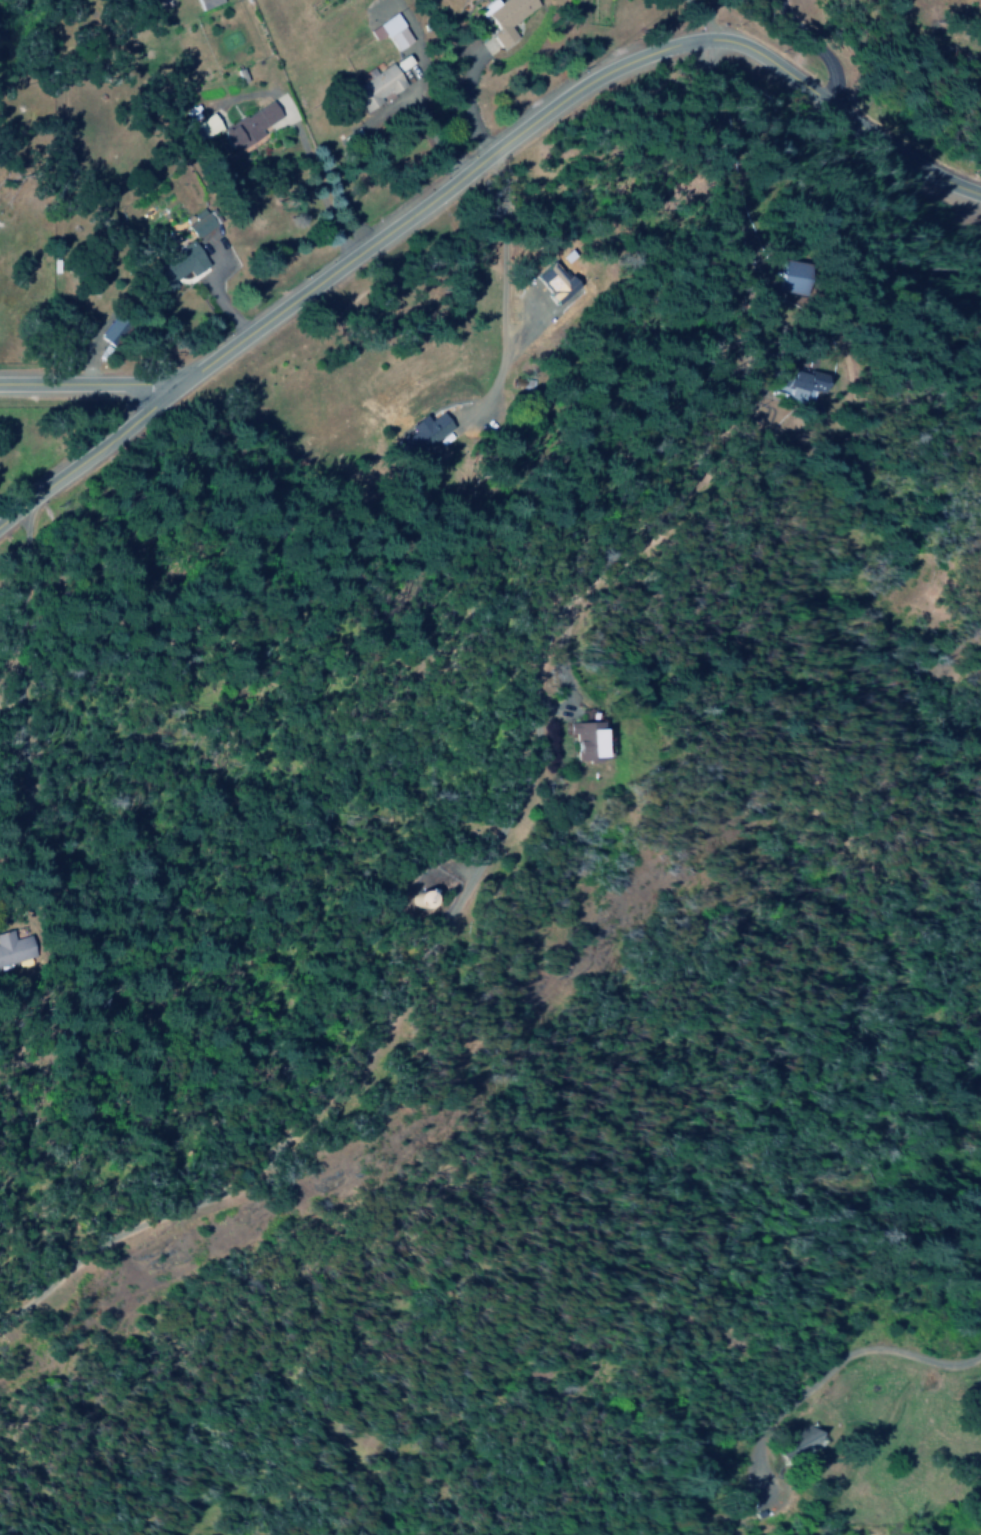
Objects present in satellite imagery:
building: (207, 3)
building: (505, 17)
building: (390, 31)
road: (811, 46)
building: (401, 63)
building: (376, 86)
road: (558, 100)
building: (249, 125)
building: (197, 223)
building: (178, 264)
building: (791, 276)
building: (111, 332)
road: (88, 383)
building: (791, 385)
building: (429, 430)
road: (86, 453)
building: (586, 739)
road: (527, 762)
building: (15, 948)
building: (797, 1442)

